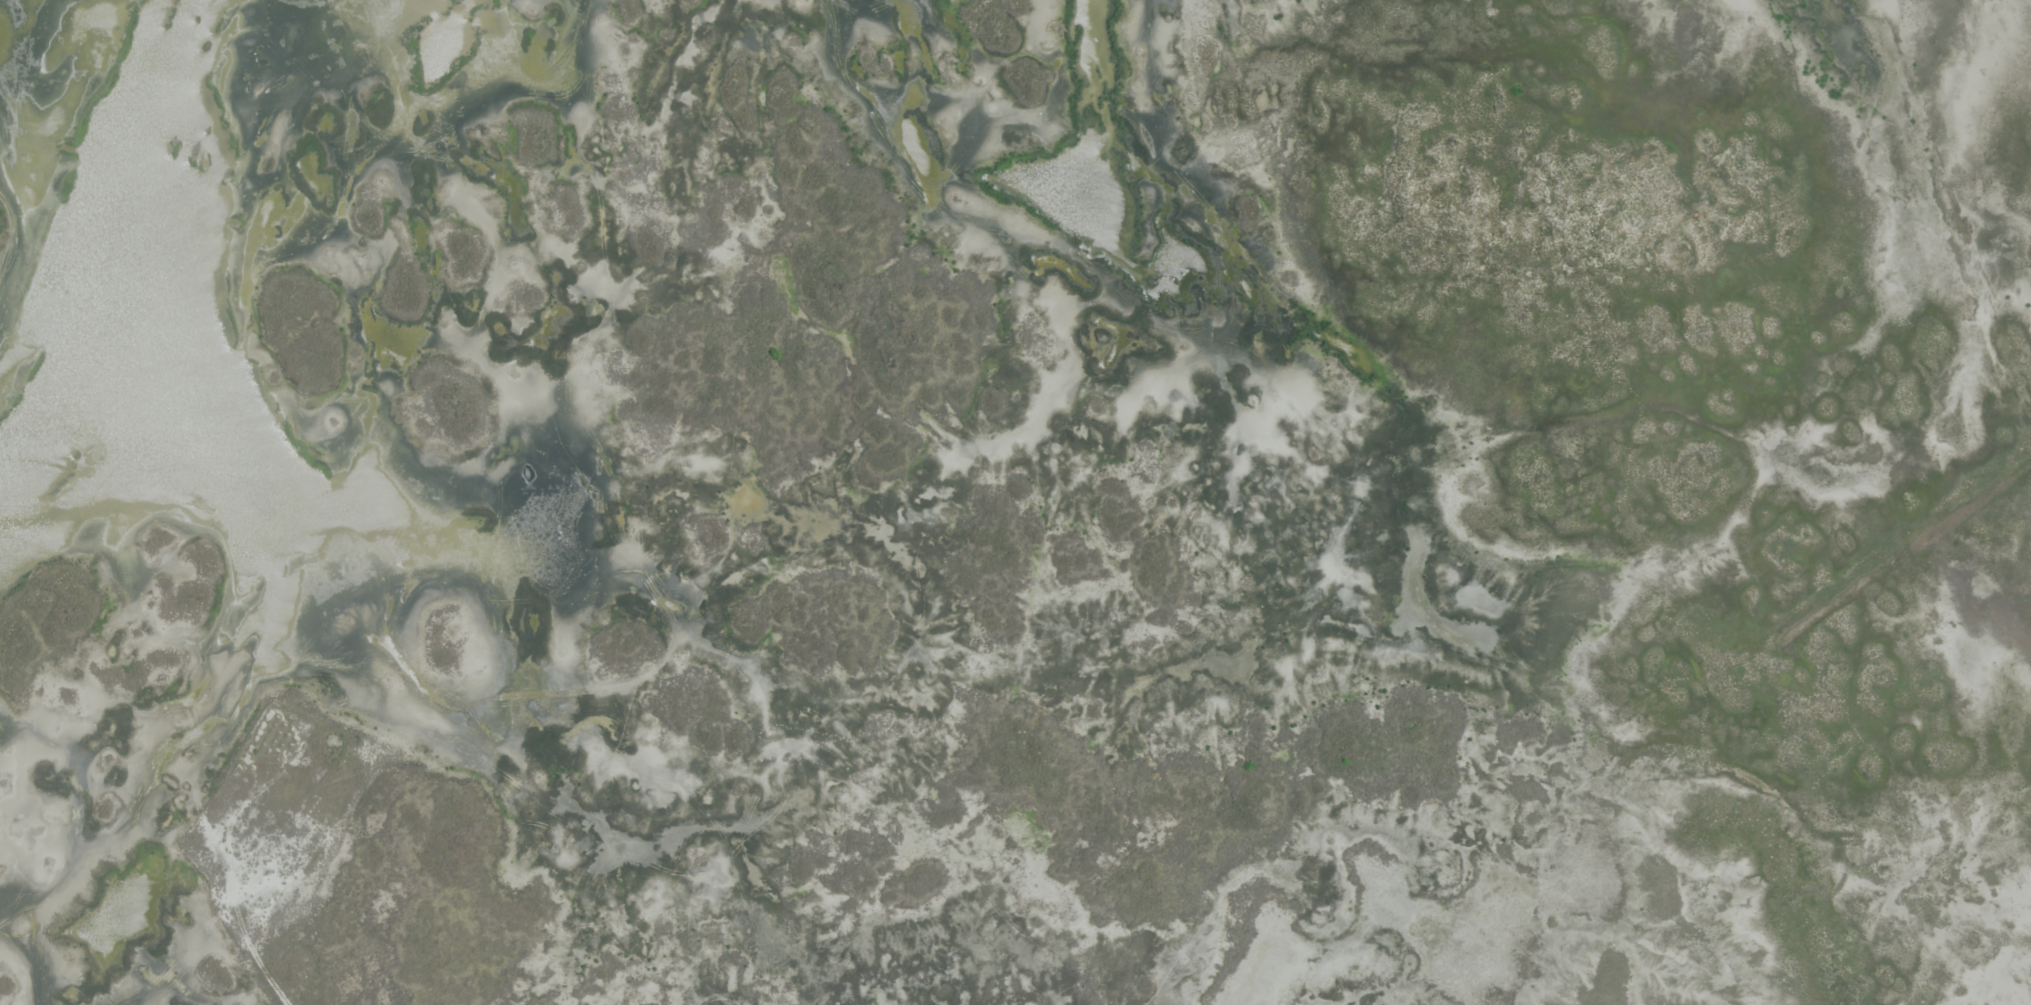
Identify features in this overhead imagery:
park: (1015, 502)

